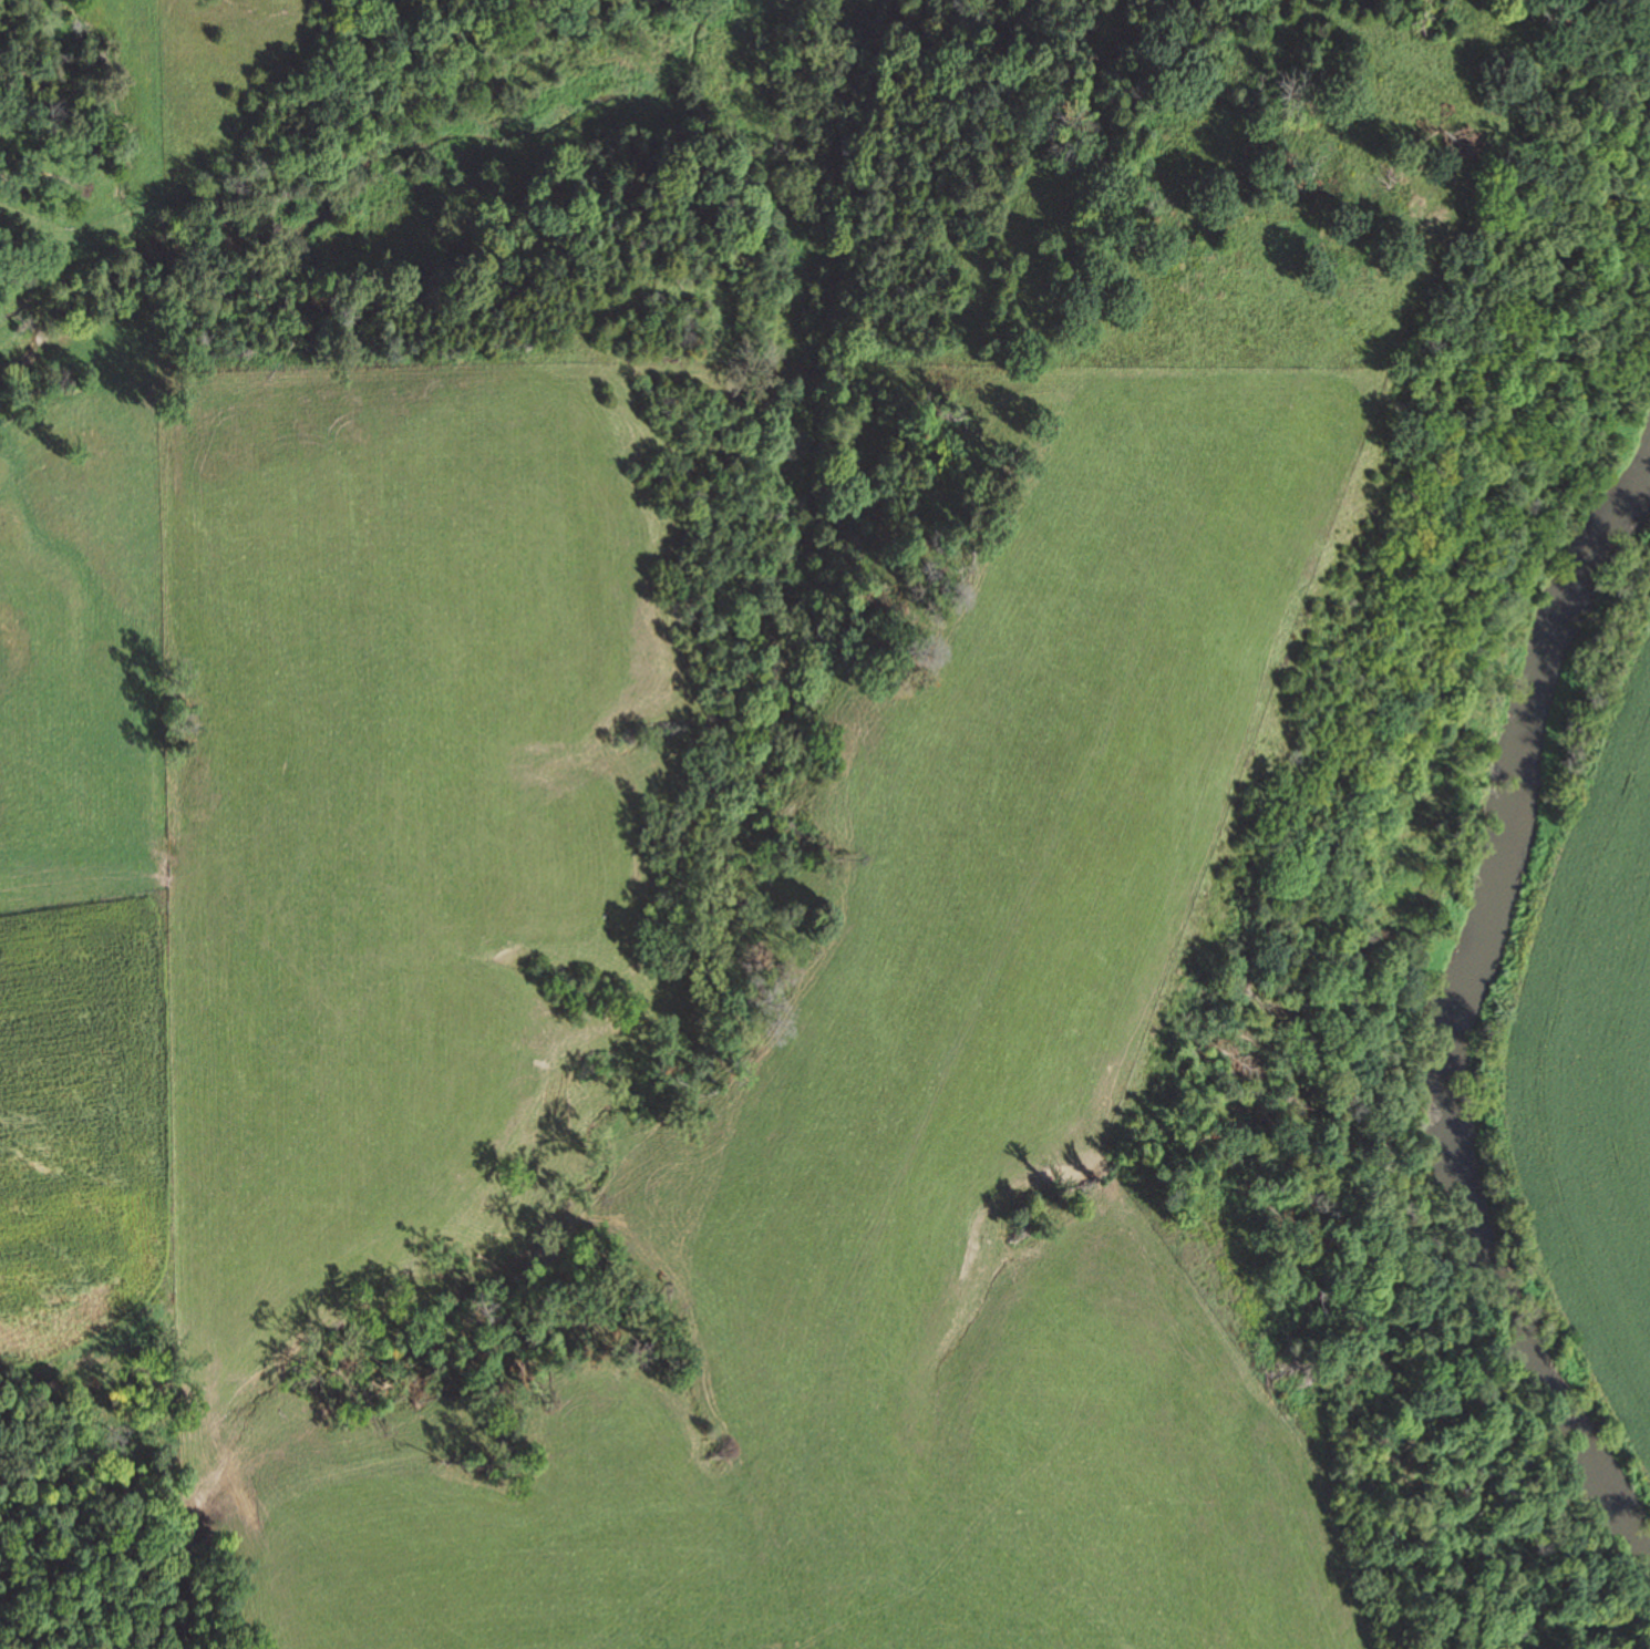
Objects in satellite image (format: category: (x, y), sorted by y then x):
river: (1442, 994)

